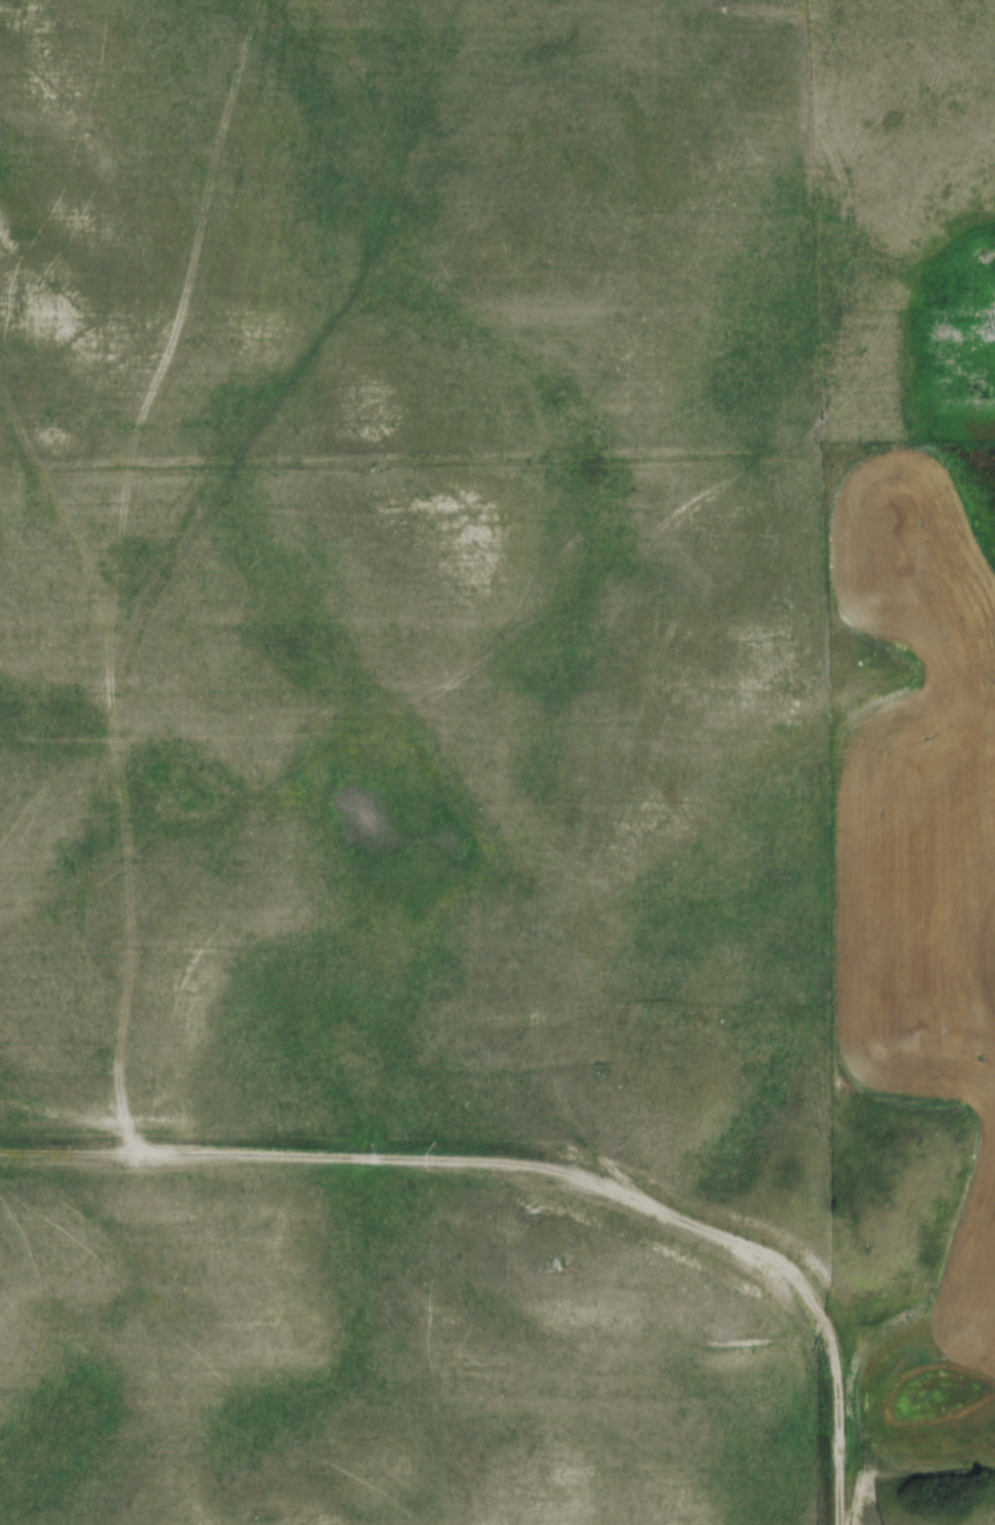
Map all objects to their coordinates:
road: (540, 1166)

